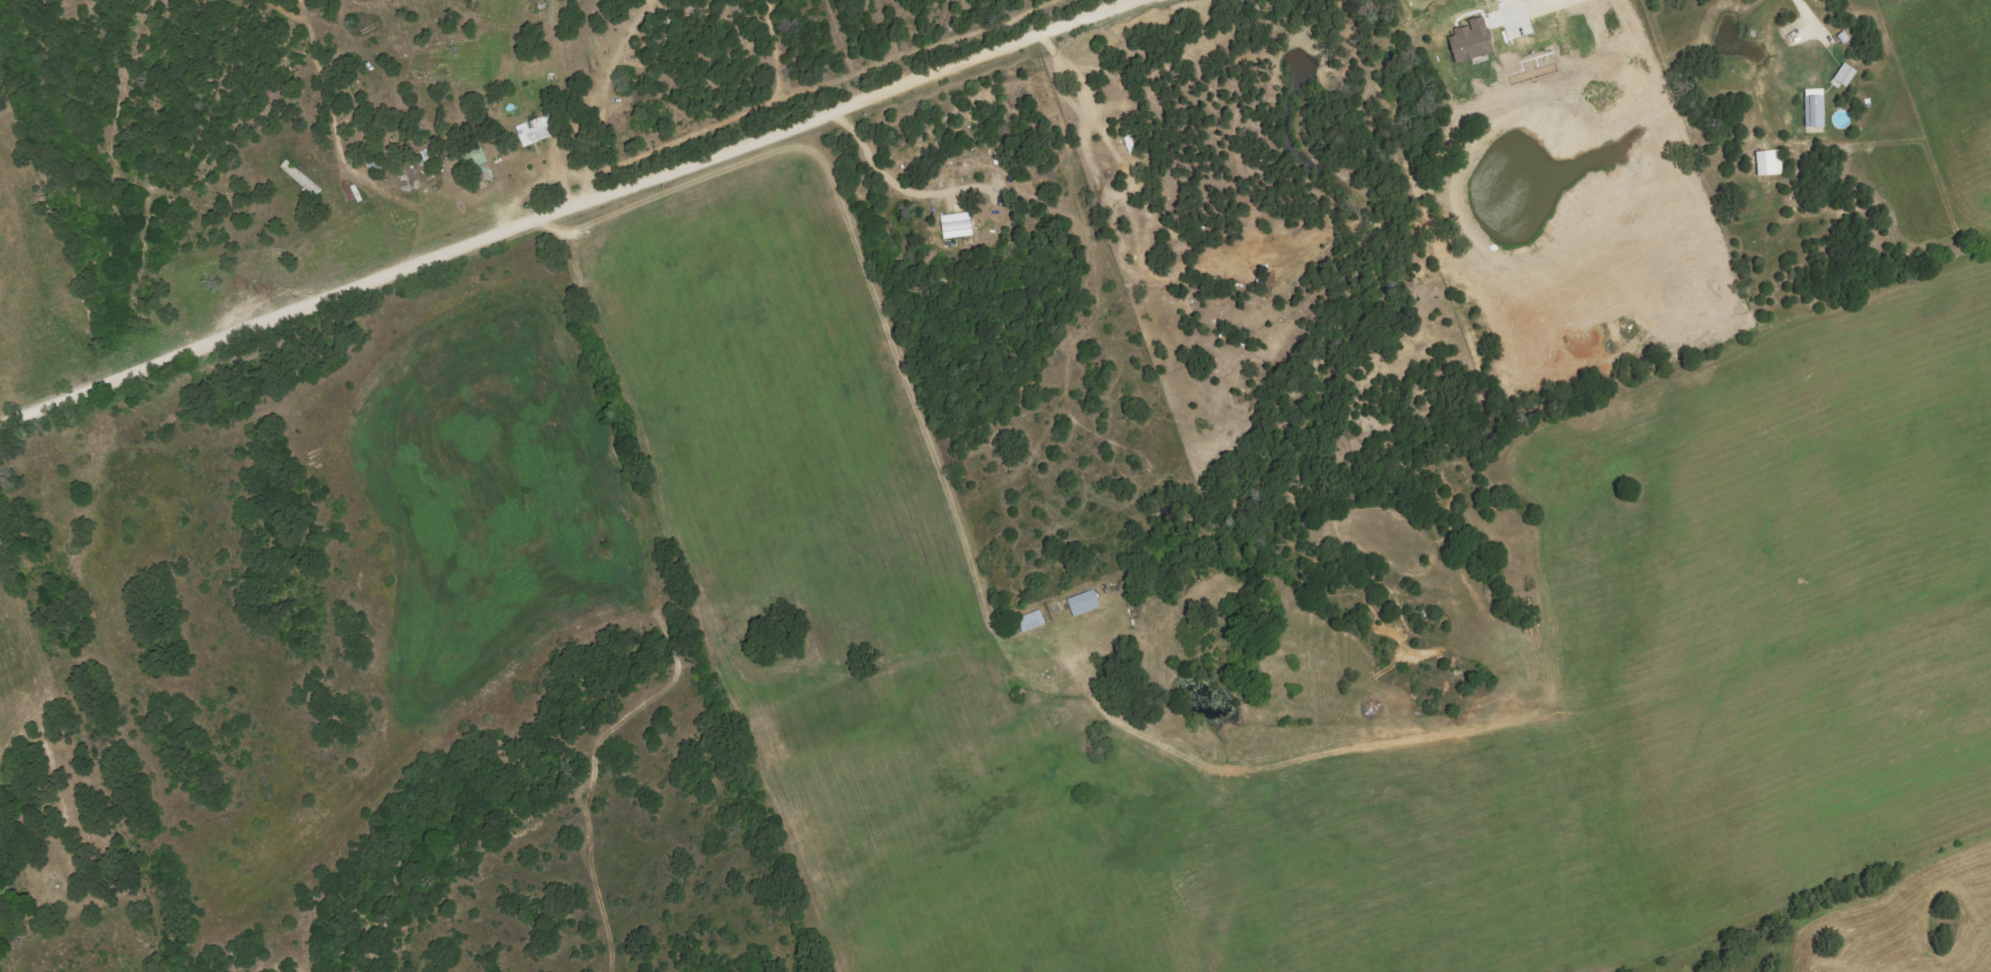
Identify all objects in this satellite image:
road: (1506, 2)
road: (1802, 14)
building: (1472, 40)
building: (1846, 75)
building: (1815, 108)
building: (537, 130)
building: (1770, 163)
road: (890, 182)
road: (571, 209)
building: (957, 225)
building: (1084, 603)
building: (1032, 621)

